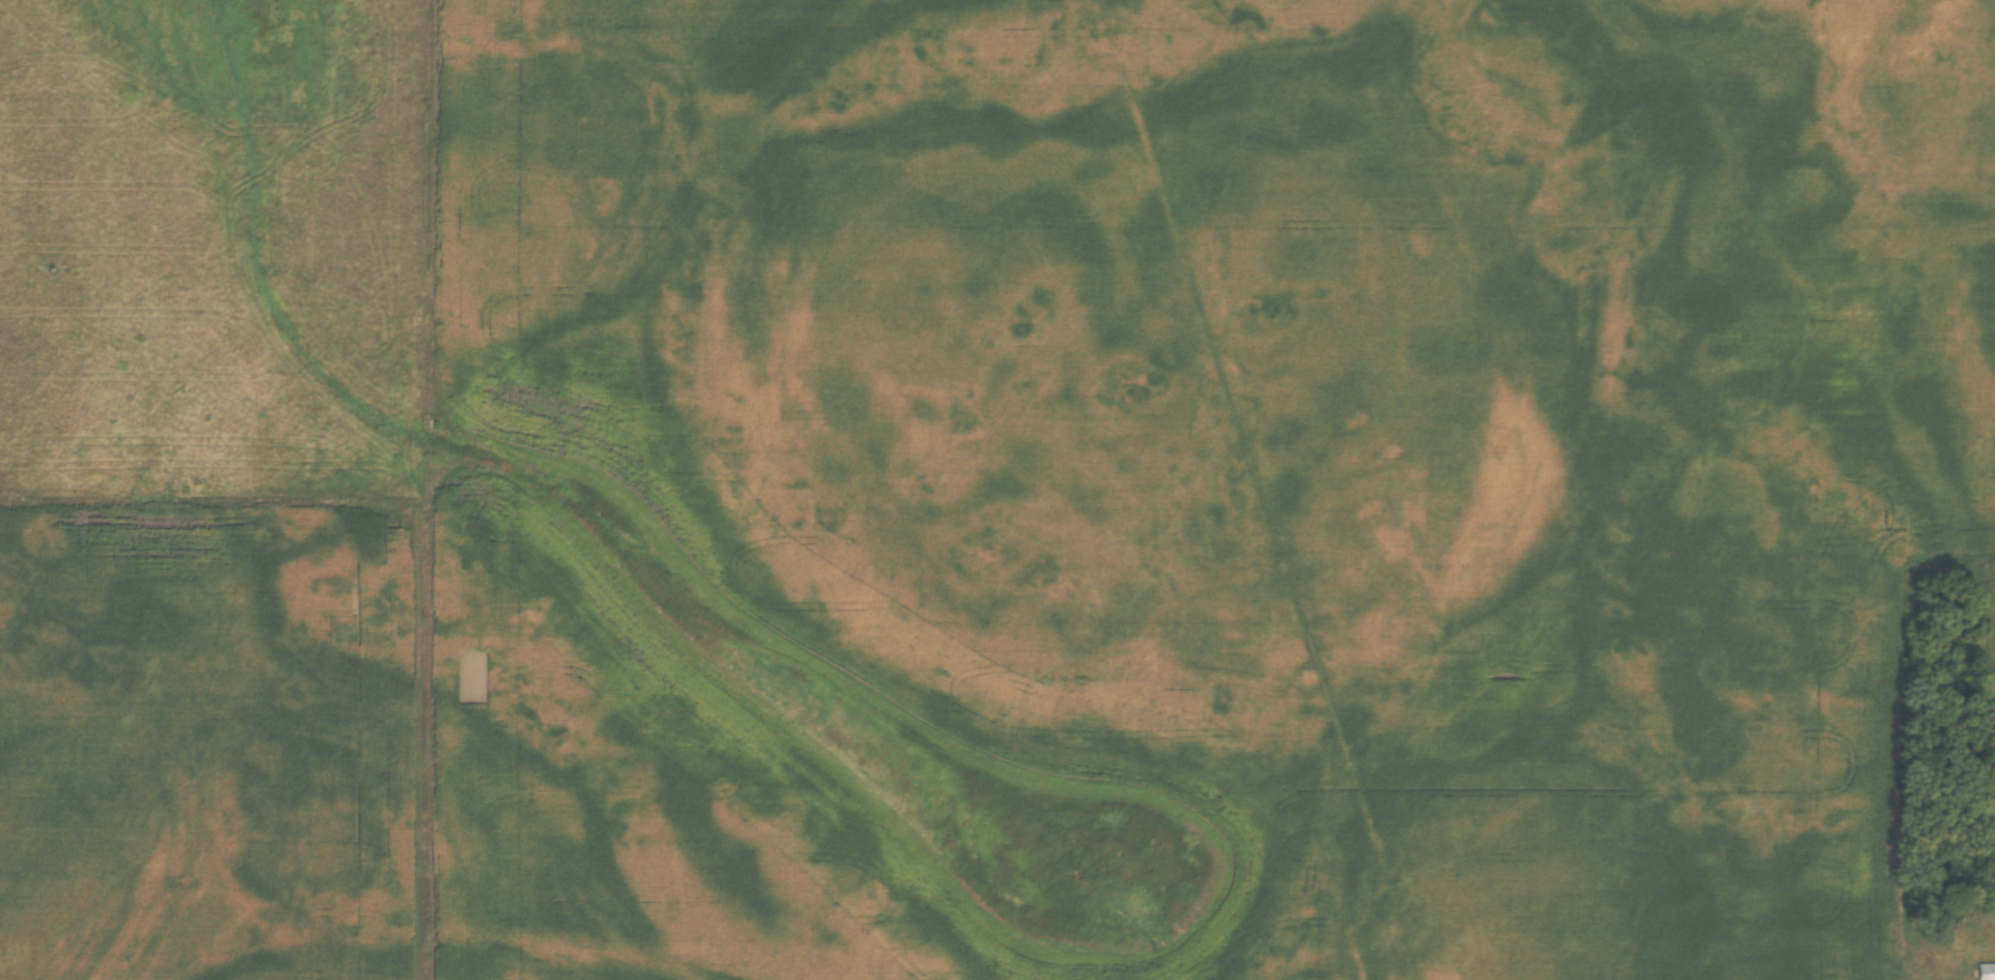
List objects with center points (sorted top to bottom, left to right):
building: (1984, 972)

